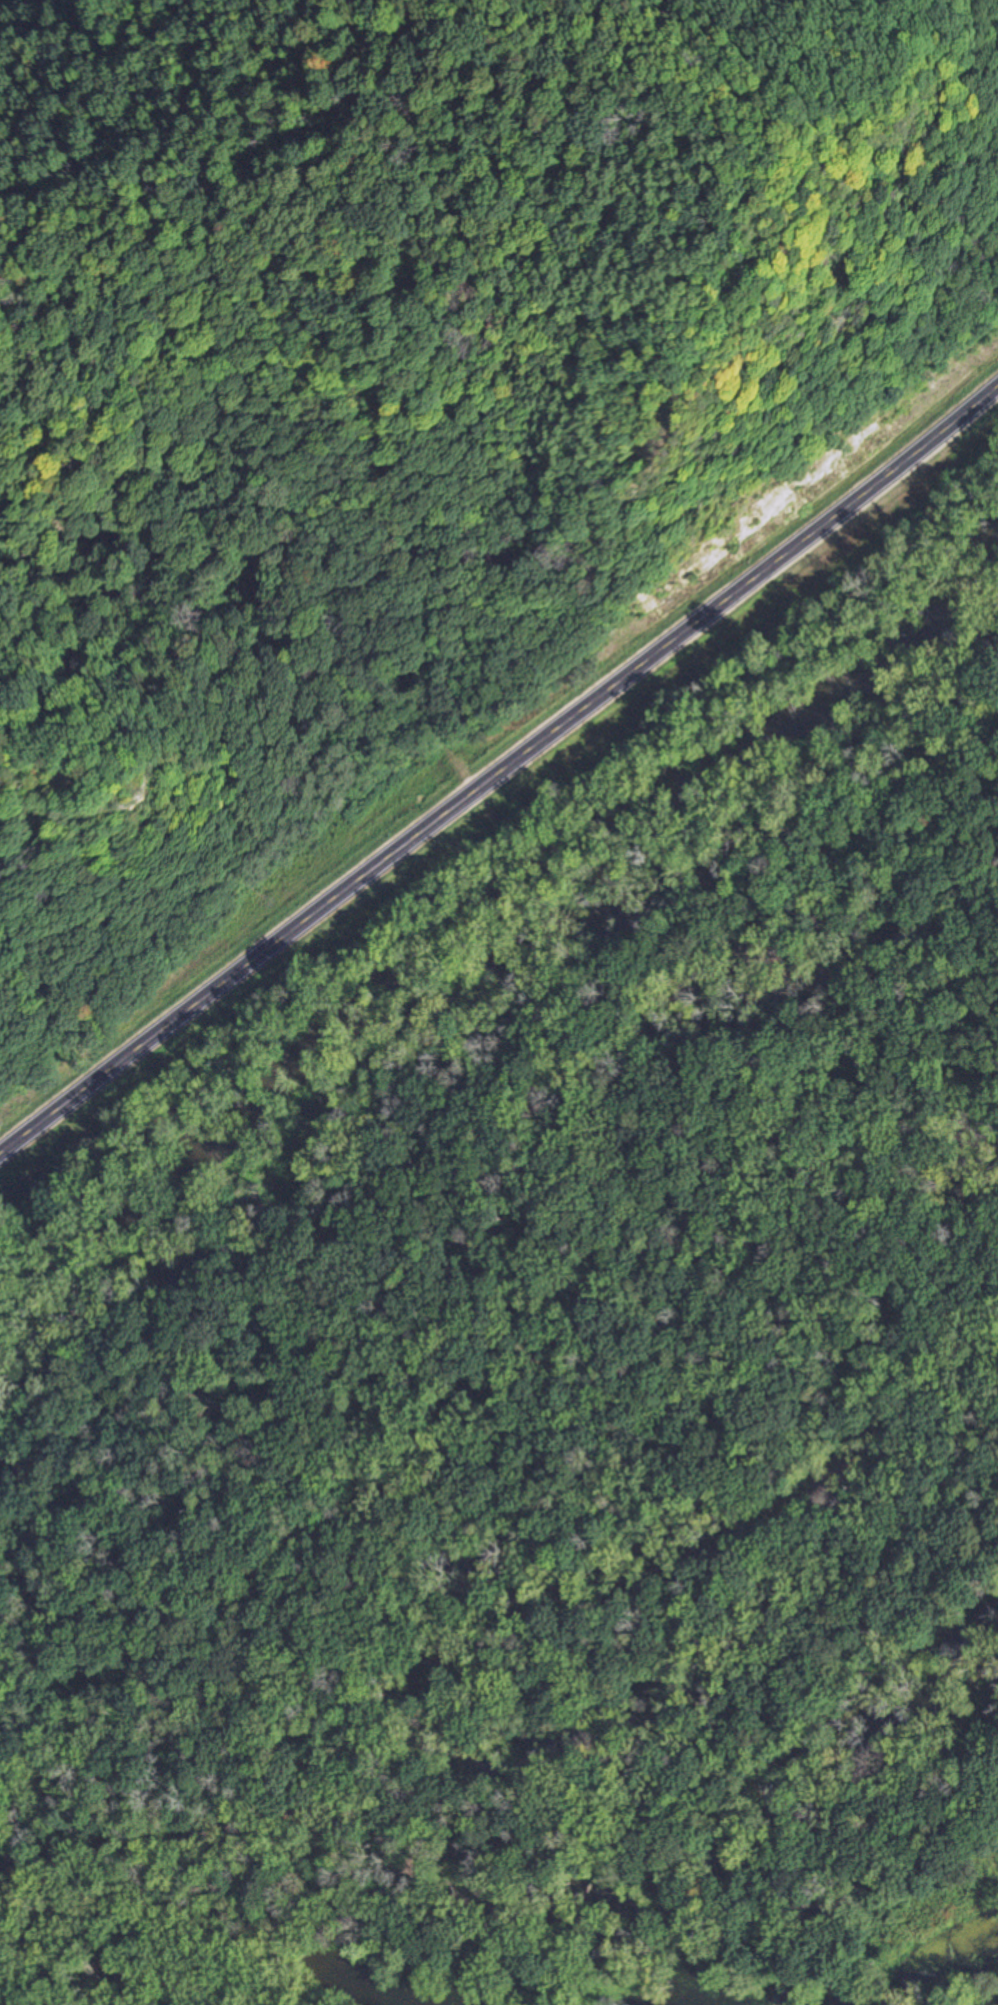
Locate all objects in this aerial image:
road: (499, 770)

